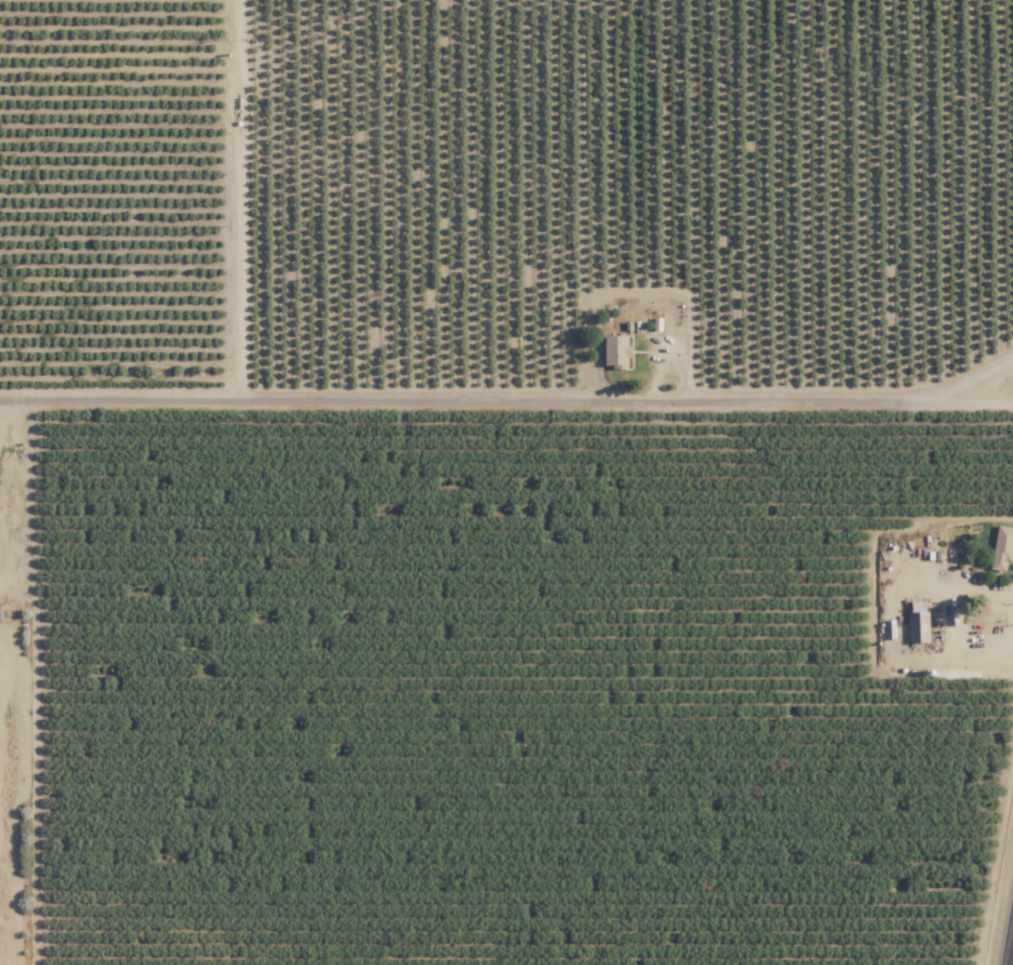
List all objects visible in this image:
crop: (504, 187)
building: (614, 349)
road: (975, 378)
road: (469, 395)
road: (974, 405)
building: (568, 465)
building: (1002, 541)
road: (888, 623)
building: (916, 625)
crop: (520, 682)
crop: (17, 684)

